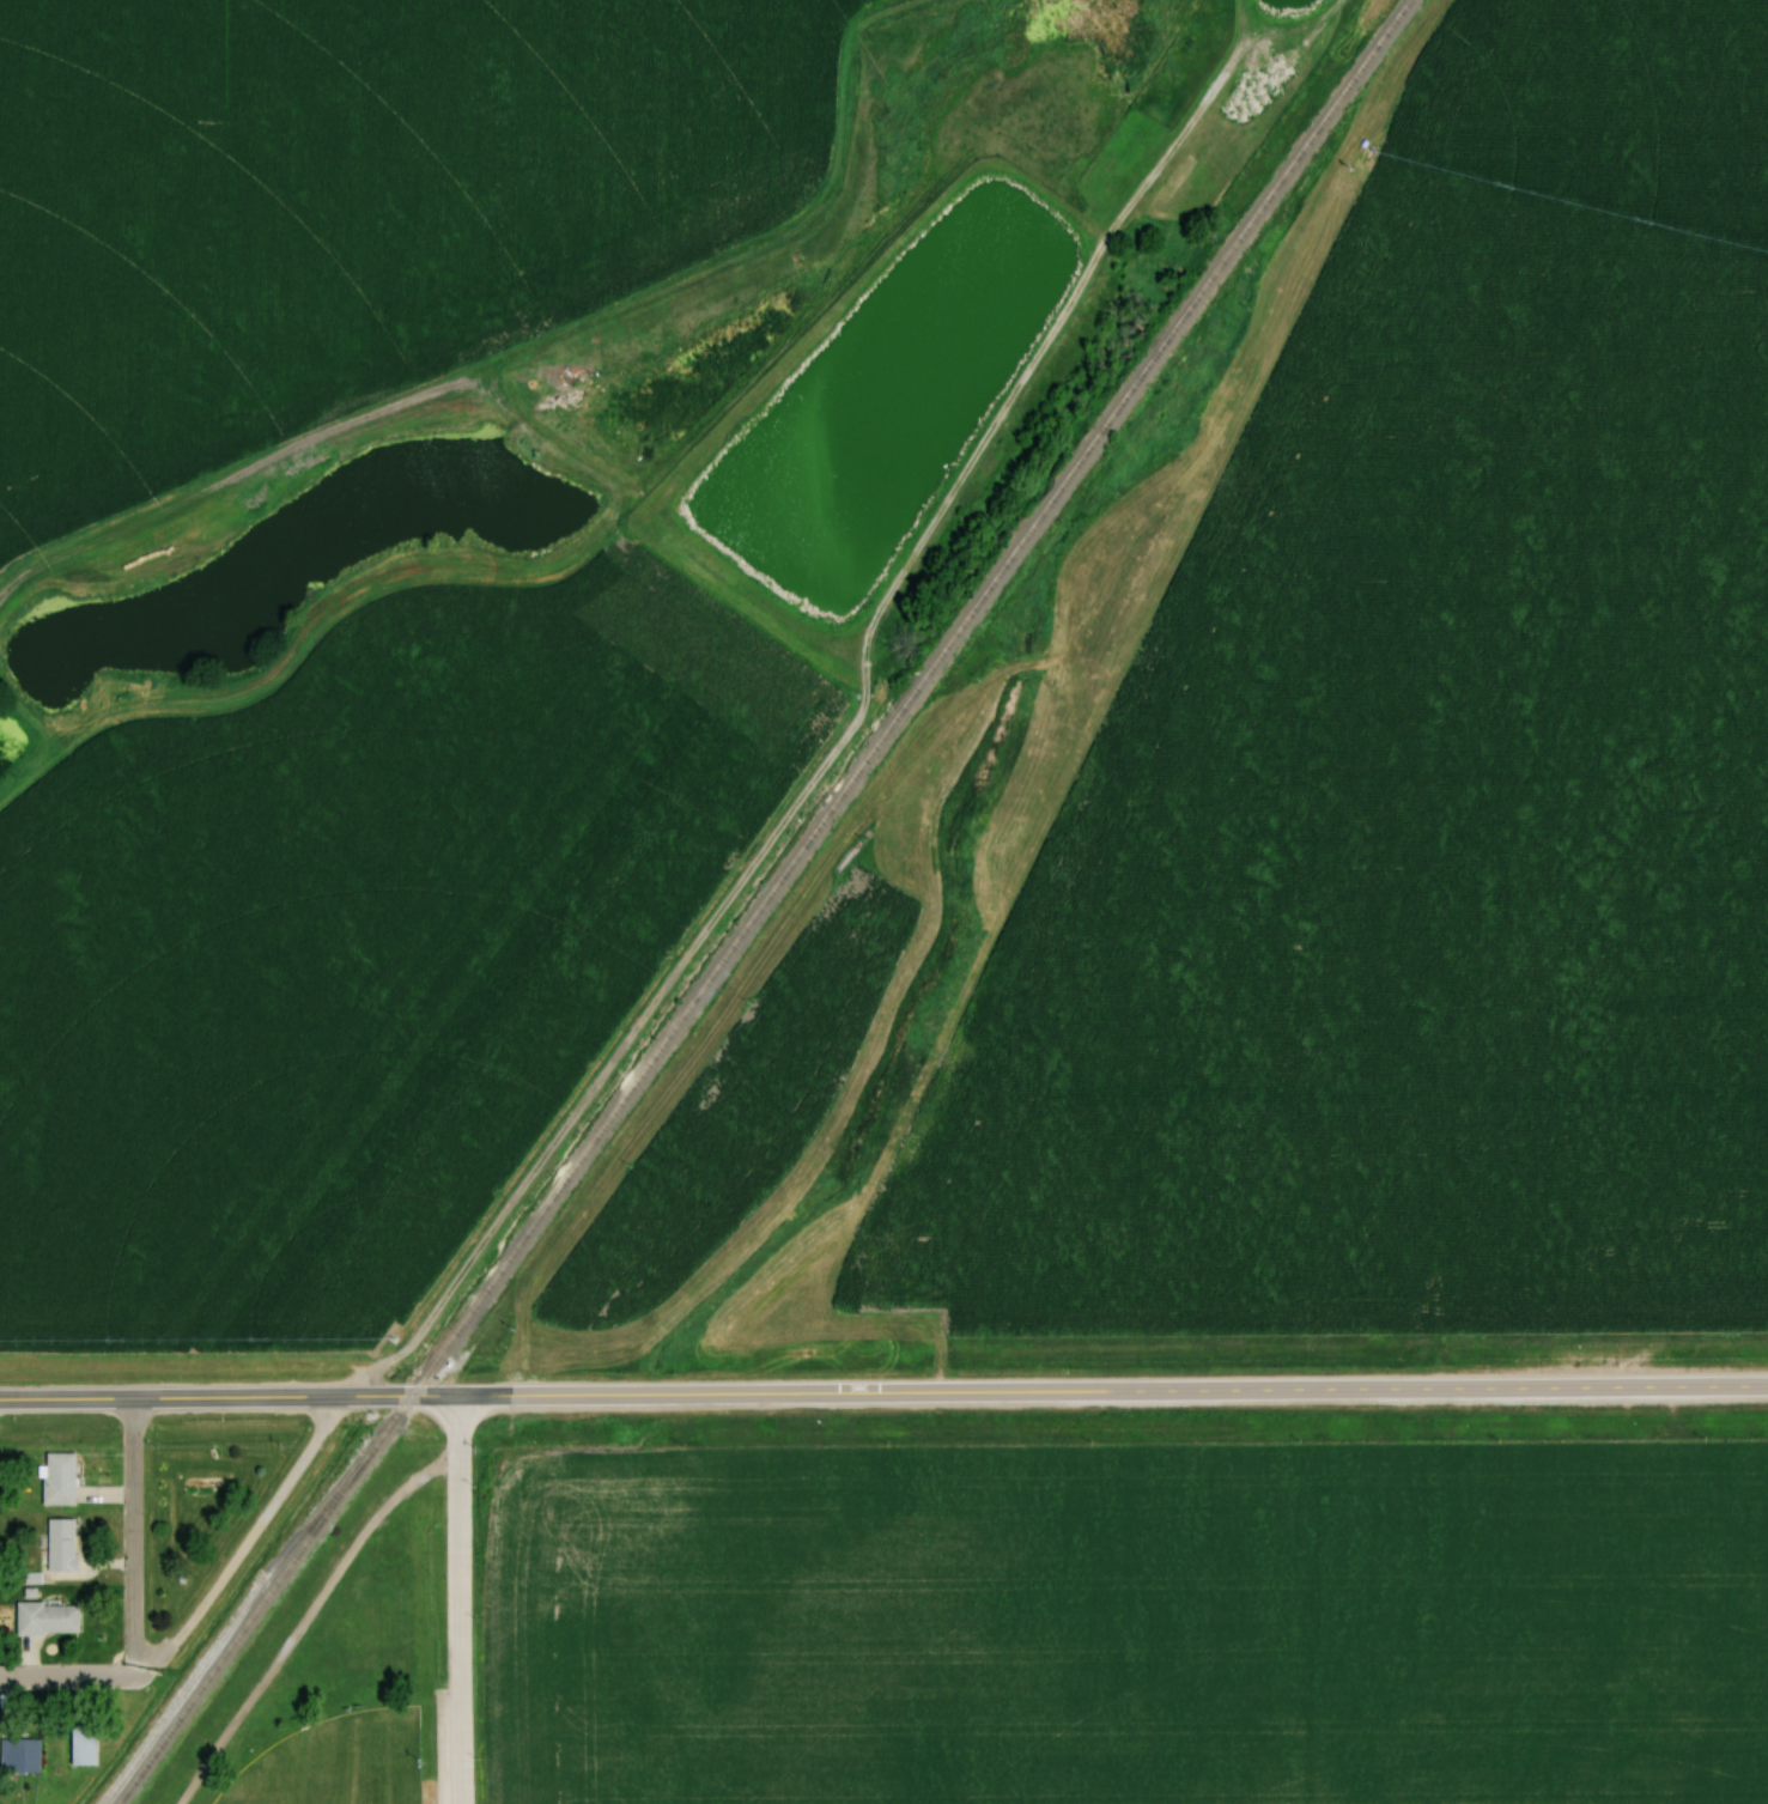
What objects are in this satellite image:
railway: (763, 903)
road: (883, 1393)
road: (135, 1474)
building: (63, 1477)
building: (65, 1543)
road: (248, 1545)
road: (462, 1599)
road: (310, 1611)
road: (134, 1612)
building: (50, 1616)
crop: (1138, 1624)
road: (67, 1674)
park: (357, 1693)
building: (87, 1744)
building: (24, 1753)
park: (338, 1760)

